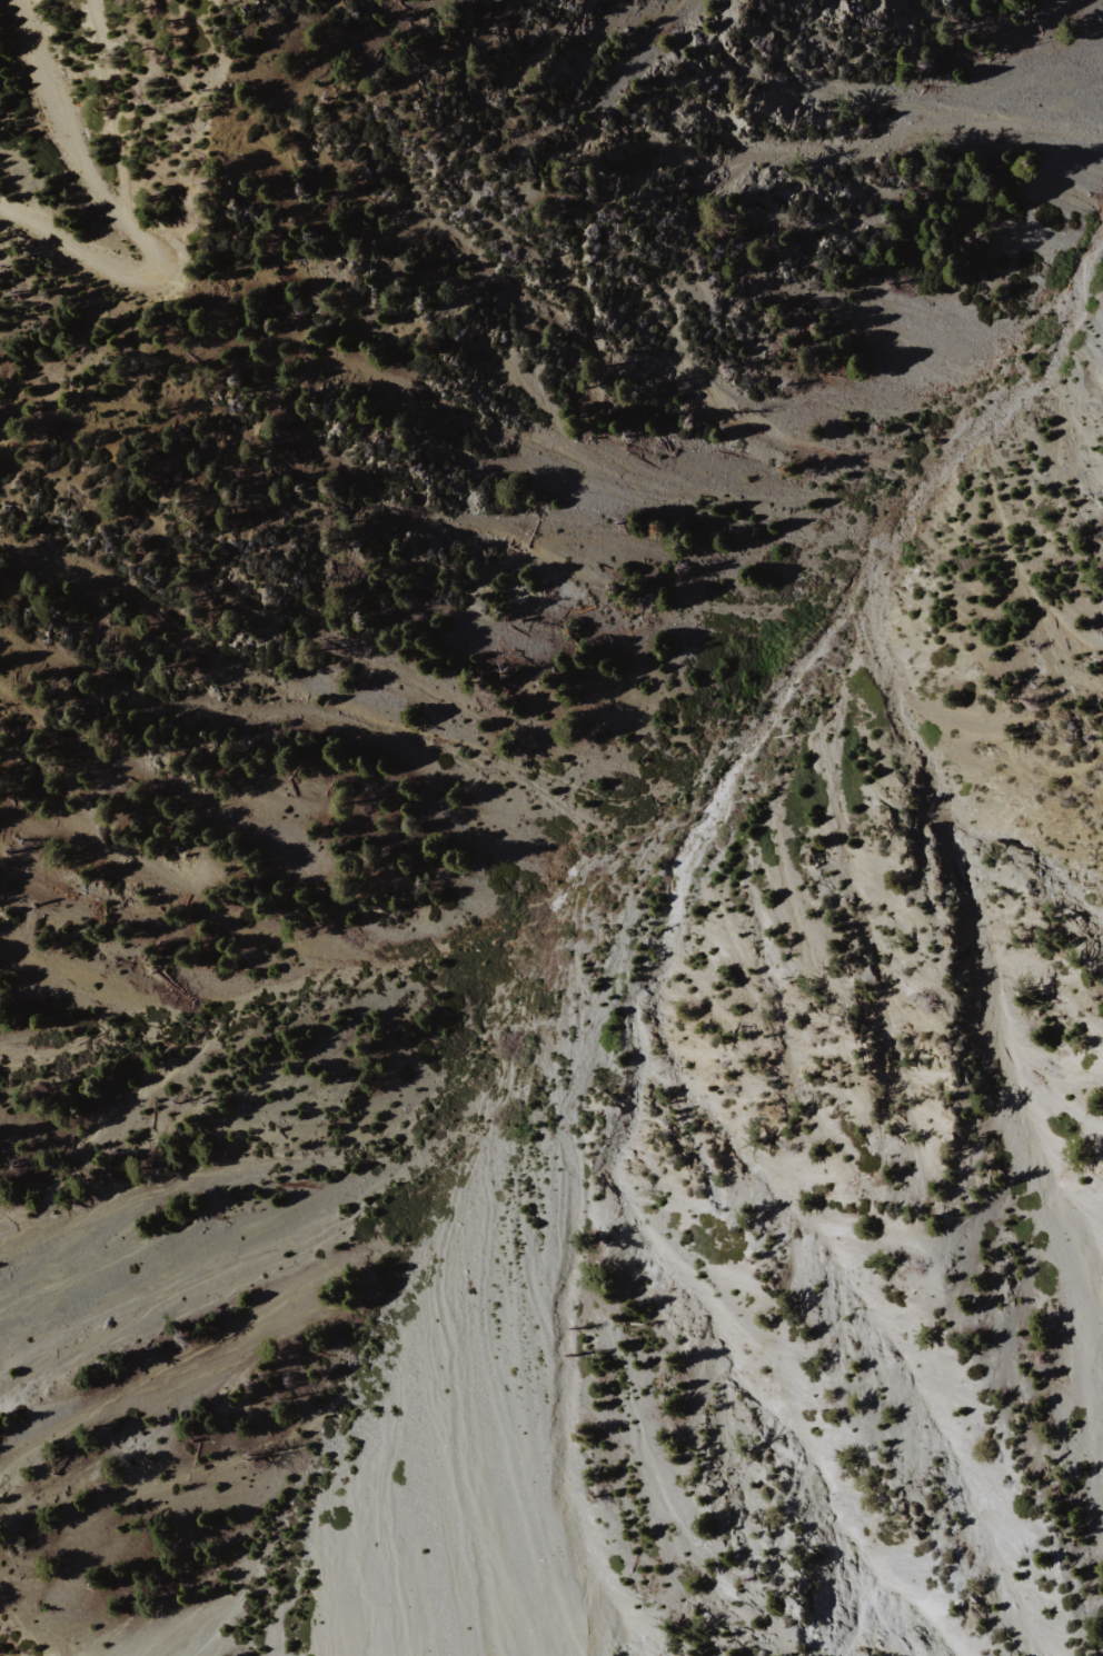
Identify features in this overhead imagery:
road: (115, 118)
ski resort: (85, 157)
road: (98, 260)
road: (40, 1654)

